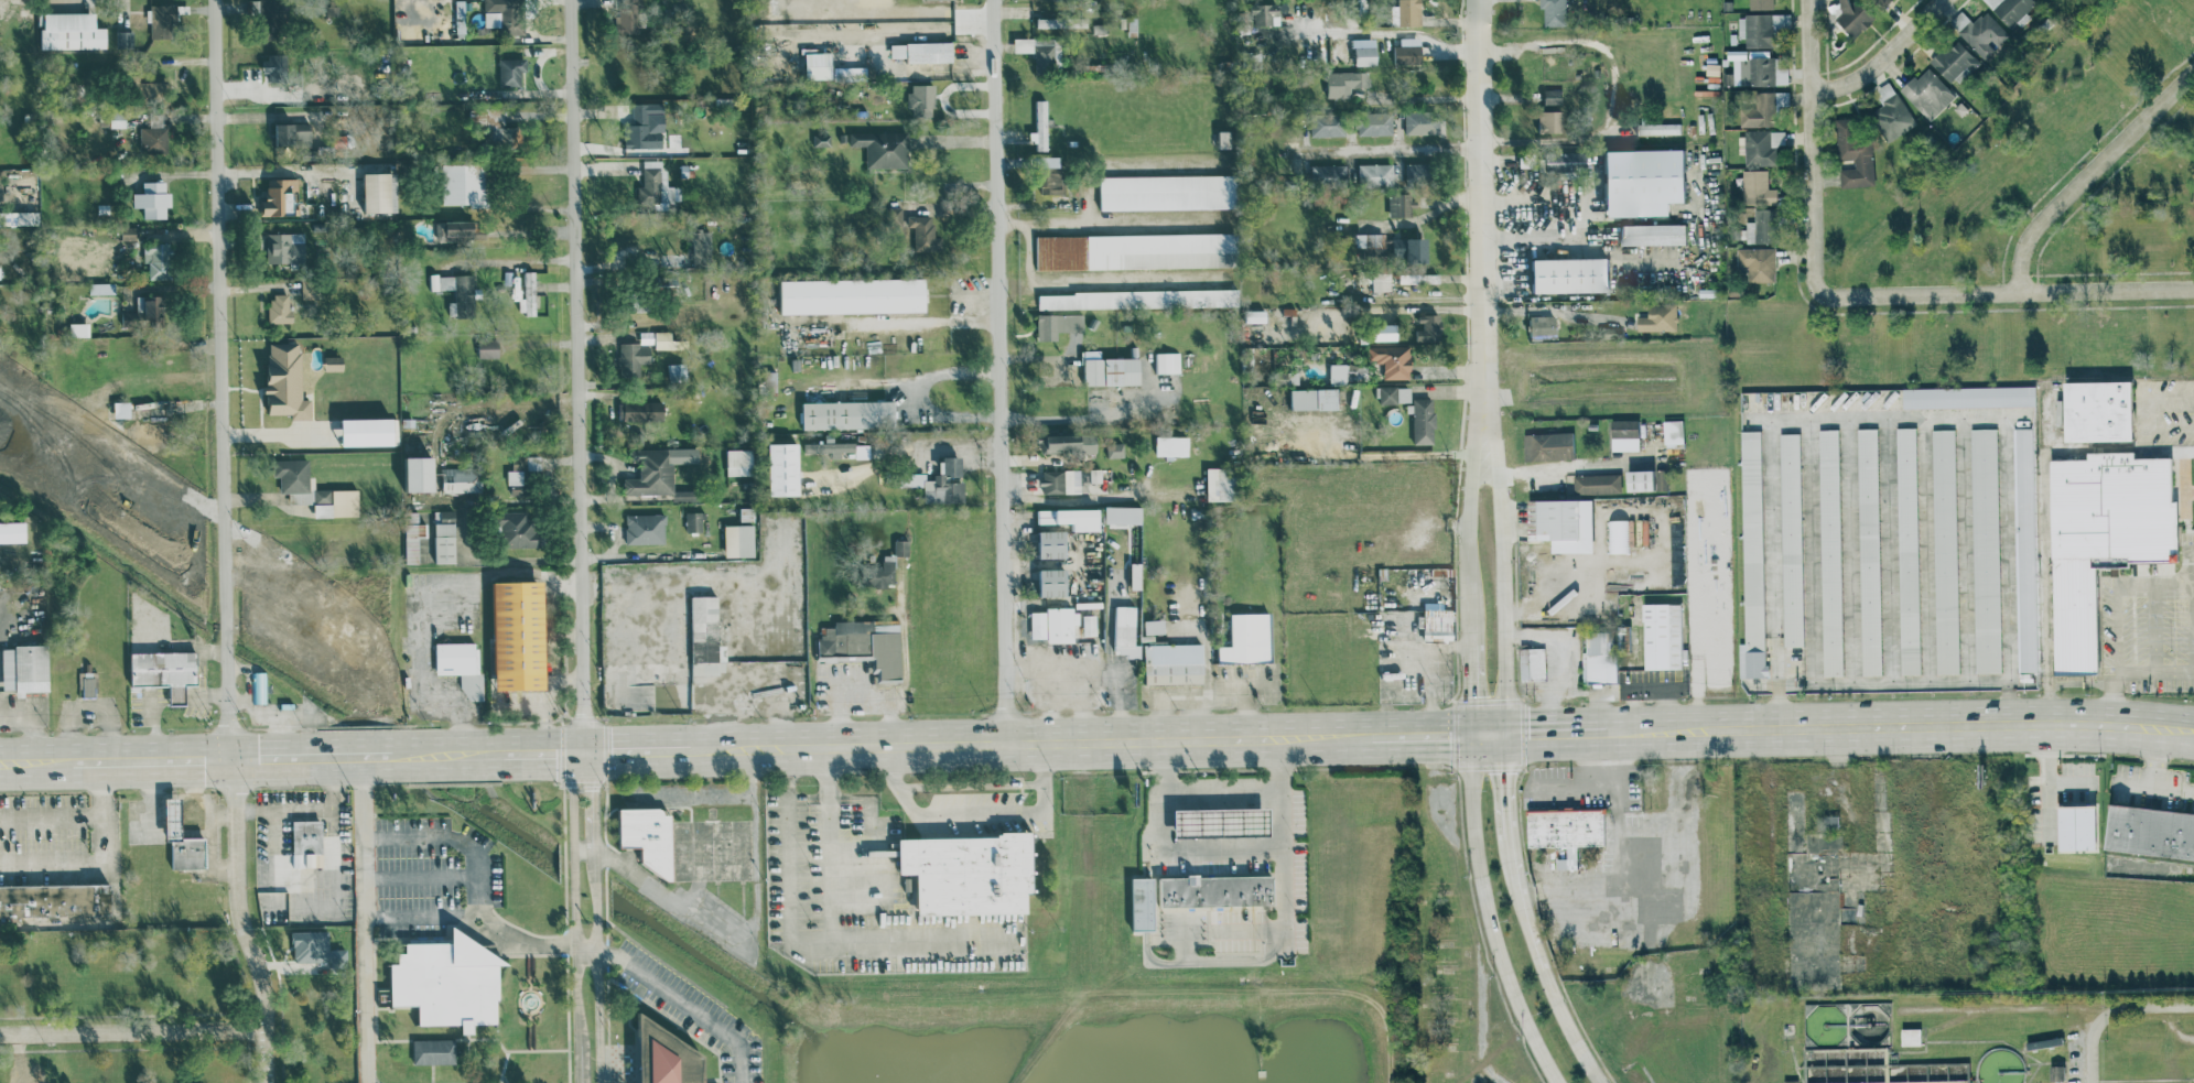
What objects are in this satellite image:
building: (1762, 3)
building: (263, 7)
building: (2011, 9)
building: (460, 12)
building: (1265, 12)
building: (1407, 12)
building: (1556, 12)
building: (506, 14)
building: (627, 19)
building: (164, 20)
building: (1051, 22)
building: (73, 30)
road: (1386, 30)
building: (1759, 30)
building: (1981, 32)
building: (125, 39)
road: (1586, 43)
building: (923, 51)
building: (1042, 52)
building: (1407, 53)
building: (1366, 55)
building: (1956, 59)
road: (1890, 61)
building: (275, 66)
building: (1764, 69)
building: (511, 71)
building: (1743, 72)
building: (1344, 83)
building: (142, 86)
building: (1887, 90)
building: (1930, 93)
building: (922, 97)
road: (1424, 97)
building: (1556, 99)
building: (1760, 110)
building: (118, 117)
building: (1894, 117)
building: (1552, 120)
building: (1423, 121)
building: (1375, 123)
building: (1041, 126)
building: (1328, 126)
building: (646, 128)
building: (1660, 128)
building: (293, 133)
building: (153, 139)
building: (822, 139)
building: (883, 148)
road: (1392, 148)
road: (1814, 149)
building: (1856, 154)
building: (1569, 161)
road: (1134, 170)
road: (273, 171)
road: (1646, 171)
building: (1329, 172)
building: (1418, 172)
road: (2088, 172)
building: (1376, 174)
road: (1483, 175)
building: (1052, 176)
building: (1647, 181)
building: (465, 183)
building: (657, 186)
building: (1759, 187)
building: (381, 191)
building: (1168, 191)
building: (279, 196)
building: (153, 198)
building: (1402, 204)
road: (1116, 224)
building: (1764, 226)
building: (460, 229)
building: (923, 230)
building: (1655, 234)
building: (1371, 239)
road: (1589, 239)
building: (1401, 245)
building: (703, 246)
building: (285, 247)
building: (1418, 248)
building: (1136, 250)
building: (159, 259)
road: (514, 261)
building: (1759, 262)
road: (630, 264)
building: (1574, 274)
building: (1419, 278)
road: (1110, 280)
building: (1382, 280)
building: (102, 286)
building: (309, 288)
building: (456, 291)
road: (2039, 291)
building: (528, 293)
building: (854, 294)
road: (1855, 294)
building: (1138, 297)
building: (153, 306)
building: (281, 307)
road: (1405, 308)
road: (1550, 310)
building: (1661, 317)
building: (1058, 324)
road: (918, 325)
building: (1543, 326)
building: (1430, 327)
building: (79, 328)
building: (1386, 332)
building: (663, 339)
building: (488, 347)
building: (635, 355)
road: (1034, 357)
building: (1392, 359)
building: (1168, 361)
building: (334, 362)
road: (1001, 369)
road: (581, 373)
building: (1339, 373)
building: (287, 380)
building: (1395, 393)
road: (922, 394)
building: (1970, 397)
building: (1315, 398)
road: (475, 403)
building: (641, 410)
building: (2105, 410)
building: (850, 413)
road: (2148, 414)
building: (1423, 420)
building: (101, 421)
building: (369, 431)
building: (1676, 432)
building: (1628, 433)
building: (143, 434)
road: (2008, 442)
building: (1069, 443)
building: (1172, 444)
building: (1552, 444)
road: (961, 445)
building: (841, 448)
building: (1115, 450)
road: (976, 459)
building: (741, 462)
road: (1577, 464)
building: (785, 468)
building: (521, 470)
building: (651, 472)
building: (422, 473)
building: (294, 478)
building: (462, 479)
building: (1068, 479)
building: (1649, 479)
building: (940, 481)
building: (1220, 483)
building: (1600, 483)
road: (1465, 487)
building: (687, 495)
road: (1100, 499)
building: (336, 502)
building: (1124, 513)
building: (1072, 517)
building: (694, 521)
building: (1567, 522)
building: (646, 528)
building: (519, 530)
building: (13, 531)
building: (446, 535)
building: (1619, 535)
building: (414, 537)
building: (2108, 538)
building: (1794, 539)
building: (739, 540)
road: (1498, 540)
road: (223, 543)
building: (1053, 543)
building: (901, 546)
building: (1987, 549)
building: (2027, 549)
building: (1910, 550)
river: (108, 551)
building: (1871, 551)
building: (1947, 551)
building: (1833, 552)
building: (1754, 555)
road: (531, 563)
building: (880, 572)
road: (1970, 573)
building: (1136, 575)
road: (1858, 575)
road: (1895, 575)
road: (1777, 576)
road: (1815, 576)
building: (1055, 582)
road: (2190, 587)
road: (2117, 599)
road: (1042, 616)
building: (1038, 624)
building: (1060, 624)
building: (1085, 625)
building: (1439, 625)
building: (1155, 626)
building: (705, 628)
road: (736, 630)
river: (226, 631)
building: (1127, 631)
building: (520, 635)
building: (1665, 635)
building: (1249, 638)
building: (865, 645)
road: (196, 646)
building: (1603, 656)
road: (1556, 657)
road: (1116, 660)
road: (1206, 661)
building: (1175, 662)
building: (1534, 663)
building: (461, 664)
building: (25, 668)
building: (709, 668)
building: (165, 671)
road: (202, 671)
road: (1429, 671)
road: (1934, 671)
road: (1468, 678)
road: (2155, 678)
building: (87, 683)
building: (259, 686)
road: (1245, 692)
road: (176, 694)
road: (205, 694)
traffic signals: (1469, 695)
road: (865, 701)
road: (32, 722)
road: (156, 722)
road: (2127, 723)
road: (1885, 724)
road: (1656, 727)
road: (1553, 729)
road: (1487, 730)
traffic signals: (1528, 730)
road: (1418, 732)
traffic signals: (1449, 732)
road: (1325, 734)
road: (1264, 735)
road: (1184, 736)
road: (1228, 736)
road: (1139, 737)
road: (879, 743)
road: (613, 747)
river: (396, 748)
road: (583, 748)
traffic signals: (584, 748)
road: (536, 749)
road: (469, 751)
road: (409, 754)
road: (296, 755)
traffic signals: (230, 757)
road: (151, 758)
road: (18, 759)
road: (54, 759)
traffic signals: (1504, 771)
road: (2153, 775)
road: (331, 781)
road: (1590, 782)
road: (971, 784)
road: (1221, 787)
road: (1675, 791)
road: (1161, 793)
road: (1280, 793)
road: (1504, 798)
road: (976, 811)
road: (51, 816)
building: (1225, 822)
building: (1569, 827)
building: (2080, 827)
building: (2152, 831)
building: (647, 838)
building: (183, 840)
road: (831, 842)
building: (314, 845)
road: (1222, 852)
road: (102, 859)
building: (971, 873)
road: (420, 876)
road: (478, 876)
river: (585, 878)
road: (332, 882)
building: (1218, 890)
road: (669, 891)
building: (55, 899)
building: (1144, 903)
road: (1488, 912)
road: (421, 913)
road: (364, 918)
road: (1280, 924)
road: (1564, 925)
road: (810, 941)
building: (316, 947)
road: (529, 966)
road: (1545, 977)
building: (447, 981)
road: (523, 989)
river: (750, 990)
road: (677, 997)
road: (2105, 1011)
road: (569, 1012)
road: (530, 1030)
road: (131, 1031)
road: (430, 1037)
road: (496, 1037)
building: (1914, 1037)
wastewater plant: (1965, 1037)
building: (2045, 1042)
road: (2097, 1047)
road: (539, 1049)
building: (434, 1051)
building: (664, 1055)
road: (467, 1060)
road: (504, 1066)
building: (2058, 1073)
building: (29, 1075)
road: (504, 1080)
building: (1792, 1081)
road: (2184, 1082)

